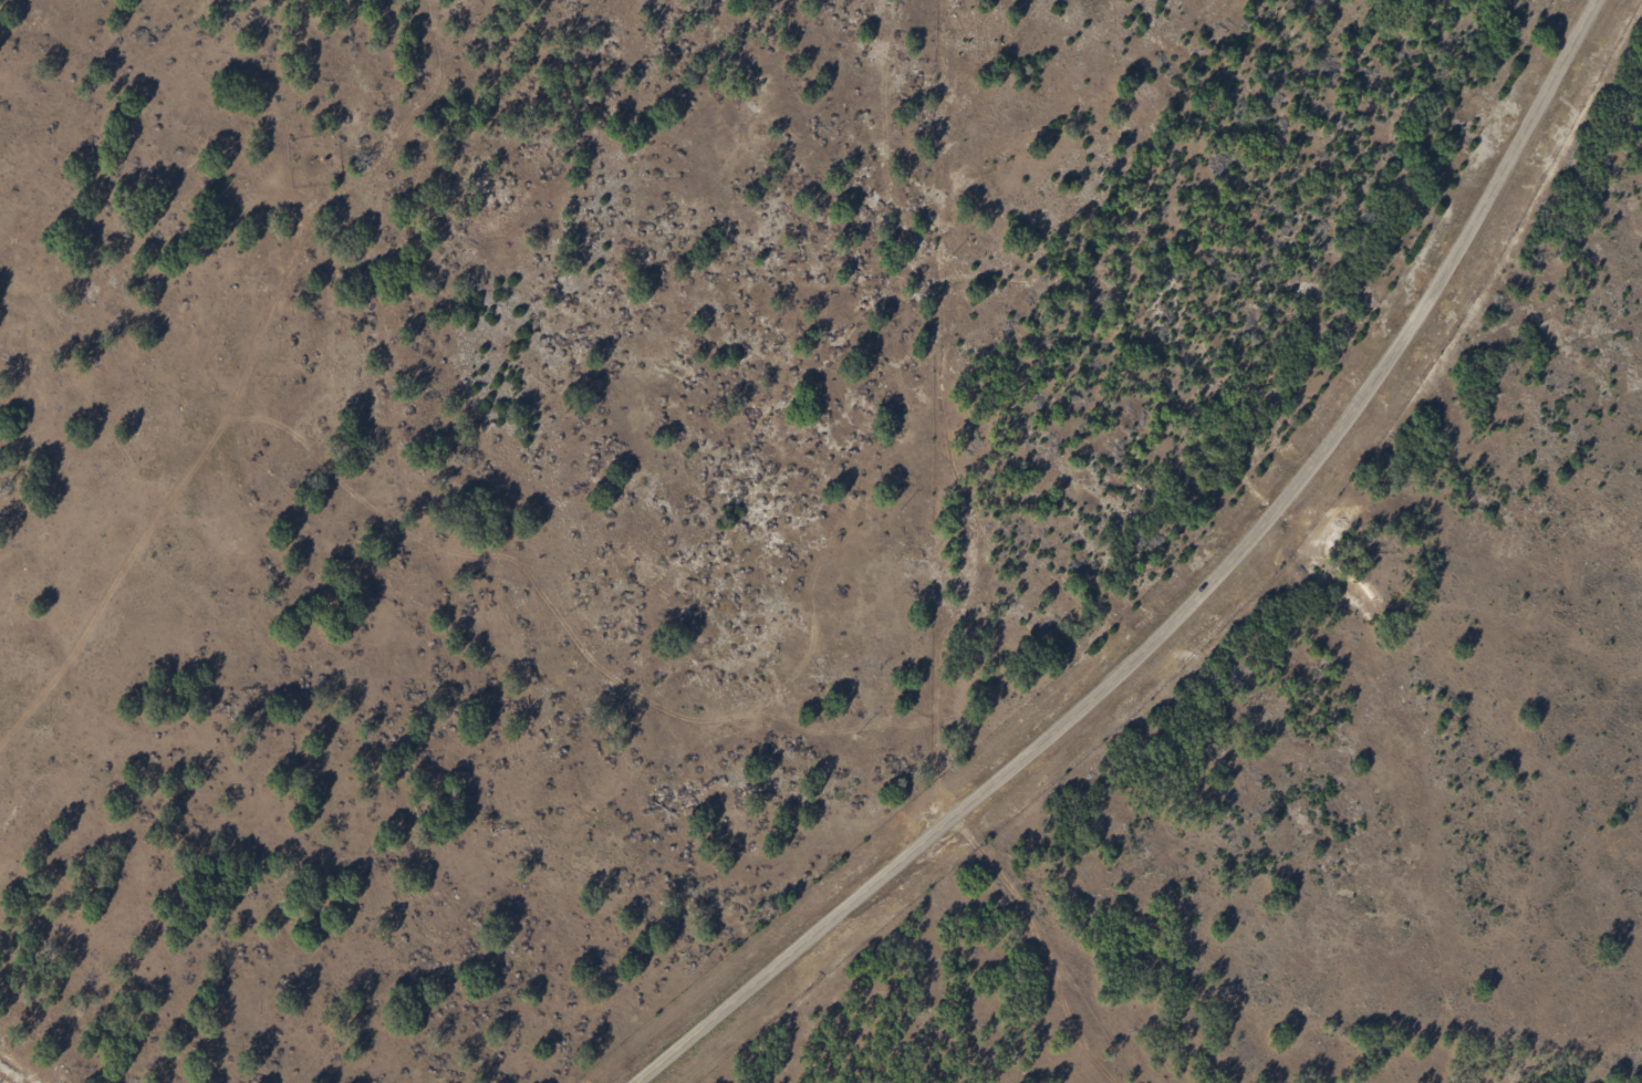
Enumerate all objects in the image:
road: (1193, 604)
airport runway: (90, 650)

